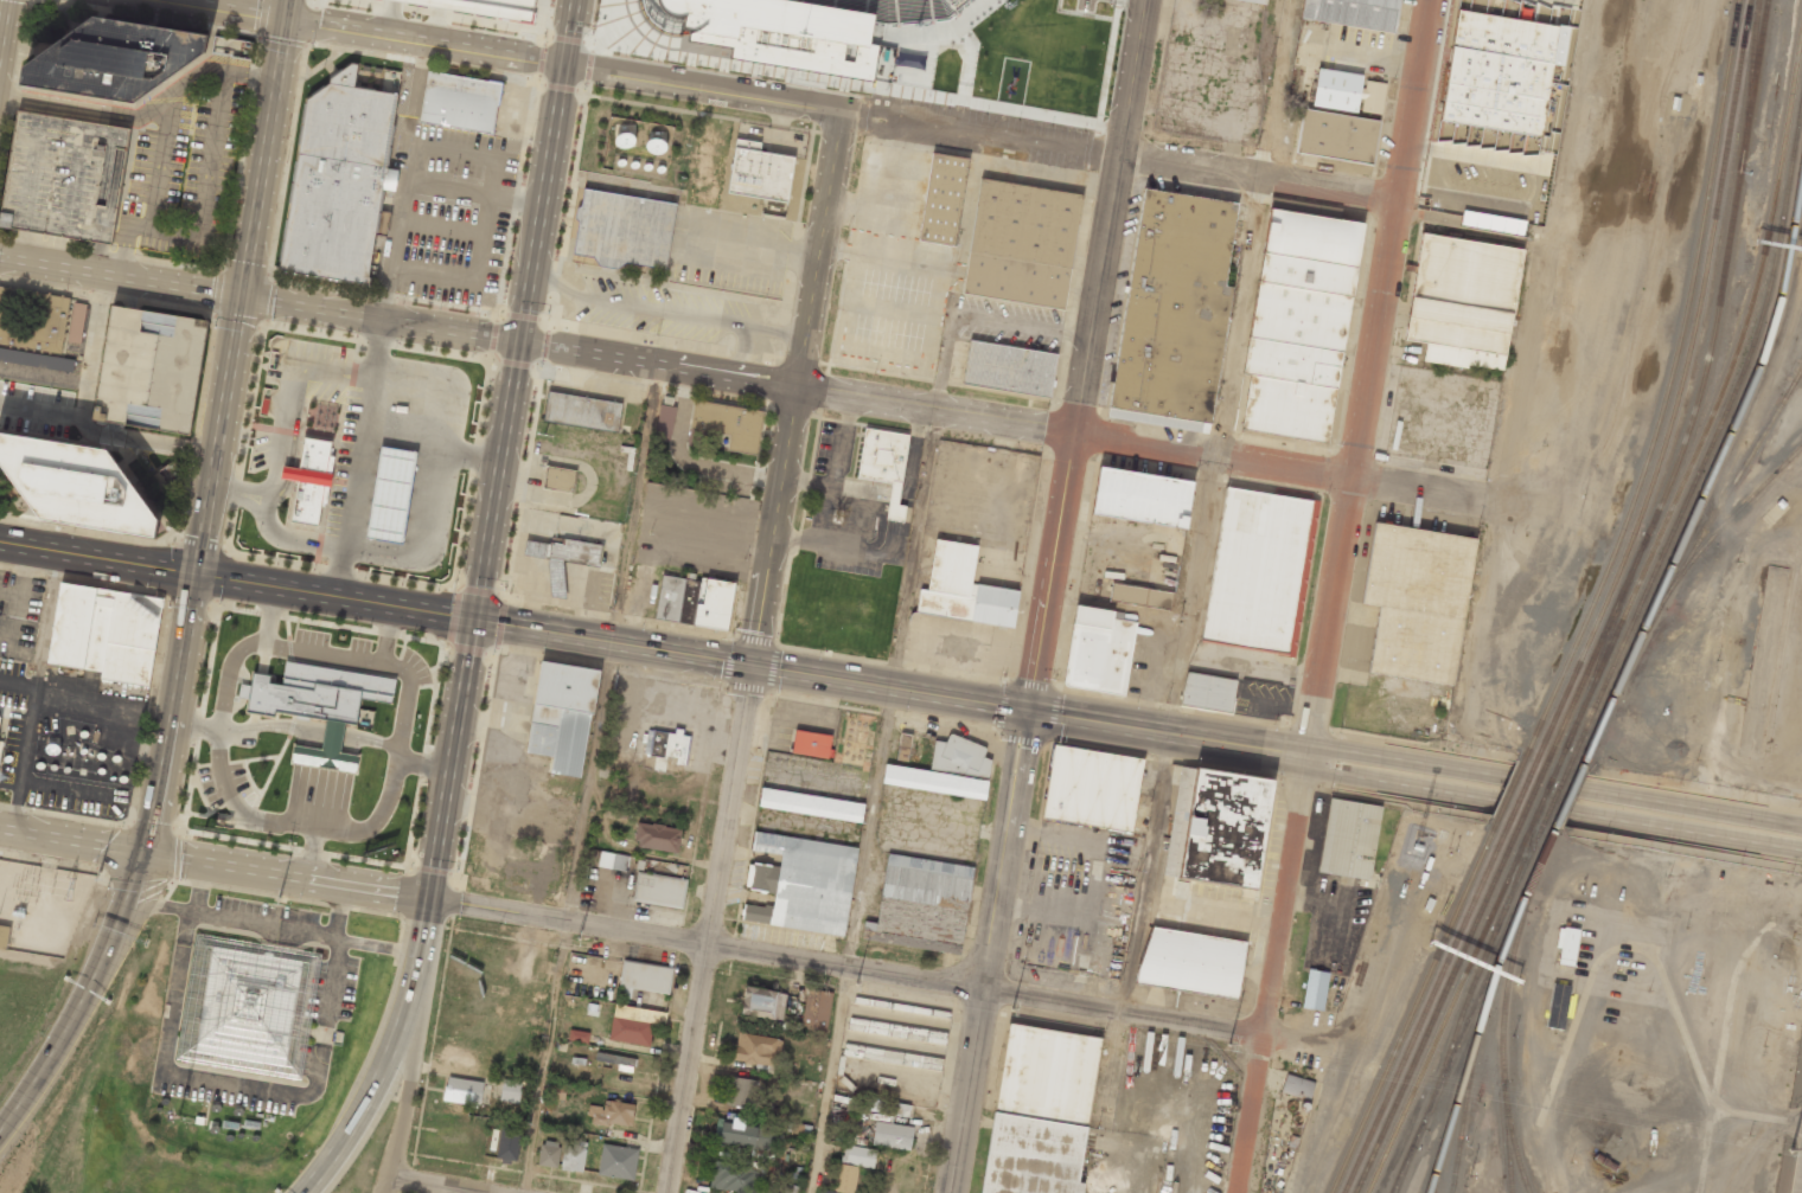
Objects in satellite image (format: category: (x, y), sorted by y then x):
building: (1259, 1)
building: (496, 6)
road: (229, 9)
road: (287, 9)
building: (1354, 12)
traffic signals: (286, 19)
building: (799, 30)
road: (424, 40)
building: (230, 46)
stadium: (894, 50)
building: (114, 58)
building: (1499, 71)
road: (702, 84)
building: (1346, 90)
building: (460, 101)
building: (1336, 136)
road: (262, 160)
parking lot: (184, 161)
building: (1002, 165)
building: (759, 171)
building: (64, 177)
parking garage: (64, 177)
building: (338, 179)
road: (1318, 193)
building: (942, 199)
parking lot: (459, 217)
building: (1491, 223)
building: (624, 229)
building: (1312, 238)
building: (1021, 243)
parking lot: (731, 250)
building: (1306, 274)
road: (120, 282)
traffic signals: (239, 302)
building: (1459, 302)
building: (1174, 307)
road: (523, 308)
road: (662, 310)
parking lot: (670, 312)
building: (1299, 316)
building: (38, 327)
road: (517, 340)
traffic signals: (518, 341)
road: (741, 348)
road: (1086, 355)
building: (1292, 361)
parking lot: (36, 367)
building: (1010, 367)
building: (149, 368)
parking garage: (149, 368)
parking lot: (302, 374)
road: (794, 384)
railway: (1667, 389)
railway: (1679, 389)
railway: (1698, 392)
road: (293, 400)
parking lot: (36, 408)
building: (1287, 408)
railway: (1714, 408)
building: (582, 411)
railway: (1733, 418)
building: (664, 422)
building: (727, 425)
railway: (1714, 434)
road: (217, 437)
road: (1136, 443)
parking lot: (835, 445)
road: (429, 448)
parking lot: (266, 449)
road: (357, 458)
road: (275, 460)
building: (884, 462)
building: (309, 479)
building: (558, 479)
road: (327, 483)
building: (76, 485)
building: (391, 493)
gas station: (391, 493)
building: (1140, 496)
railway: (1724, 521)
road: (268, 526)
road: (426, 540)
parking lot: (844, 540)
road: (97, 557)
building: (562, 558)
railway: (1683, 562)
building: (1258, 571)
traffic signals: (196, 573)
road: (219, 575)
building: (963, 589)
road: (334, 595)
building: (1139, 596)
road: (1334, 596)
building: (1418, 601)
road: (215, 602)
building: (695, 602)
parking lot: (19, 614)
traffic signals: (473, 618)
building: (106, 630)
road: (611, 642)
road: (612, 642)
building: (1097, 650)
parking lot: (11, 675)
road: (887, 688)
building: (1208, 692)
building: (319, 705)
road: (1005, 706)
traffic signals: (1027, 711)
road: (172, 712)
building: (500, 713)
building: (563, 716)
building: (666, 744)
building: (811, 744)
building: (903, 746)
road: (1285, 750)
road: (451, 758)
building: (946, 771)
road: (1555, 784)
building: (1091, 789)
railway: (1507, 789)
railway: (1520, 790)
railway: (1529, 793)
railway: (1541, 794)
building: (625, 796)
railway: (1552, 796)
railway: (1564, 797)
building: (811, 806)
road: (1552, 810)
building: (1227, 829)
building: (658, 836)
road: (72, 839)
building: (1349, 839)
traffic signals: (146, 852)
railway: (1539, 855)
building: (613, 861)
power tower: (101, 871)
road: (286, 874)
building: (803, 884)
building: (659, 889)
power tower: (279, 896)
traffic signals: (428, 898)
building: (924, 900)
railway: (1519, 903)
power substation: (40, 905)
road: (130, 924)
road: (423, 925)
road: (263, 926)
road: (711, 929)
building: (4, 935)
power tower: (579, 938)
building: (1566, 945)
road: (378, 947)
road: (991, 951)
building: (1193, 962)
road: (846, 968)
building: (645, 976)
power tower: (856, 982)
railway: (1481, 988)
building: (1315, 989)
road: (82, 995)
building: (762, 1002)
building: (241, 1005)
building: (1557, 1006)
railway: (1411, 1007)
building: (816, 1008)
power tower: (1012, 1008)
railway: (1424, 1008)
railway: (1434, 1009)
railway: (1445, 1009)
railway: (1465, 1011)
building: (633, 1024)
railway: (1502, 1034)
building: (579, 1035)
power tower: (1228, 1044)
building: (756, 1048)
road: (545, 1057)
railway: (1466, 1059)
building: (618, 1061)
road: (407, 1065)
building: (580, 1067)
road: (377, 1080)
road: (831, 1080)
road: (230, 1085)
building: (1297, 1086)
building: (462, 1091)
building: (510, 1091)
building: (556, 1091)
building: (741, 1092)
road: (1181, 1097)
building: (887, 1107)
railway: (1463, 1110)
building: (1040, 1111)
building: (612, 1114)
building: (193, 1123)
building: (245, 1127)
building: (892, 1135)
building: (746, 1137)
building: (507, 1143)
power tower: (1791, 1149)
building: (549, 1153)
railway: (1513, 1154)
building: (573, 1155)
building: (858, 1155)
building: (616, 1161)
railway: (1436, 1172)
building: (735, 1176)
building: (845, 1178)
road: (383, 1184)
road: (440, 1184)
railway: (1372, 1186)
building: (825, 1191)

